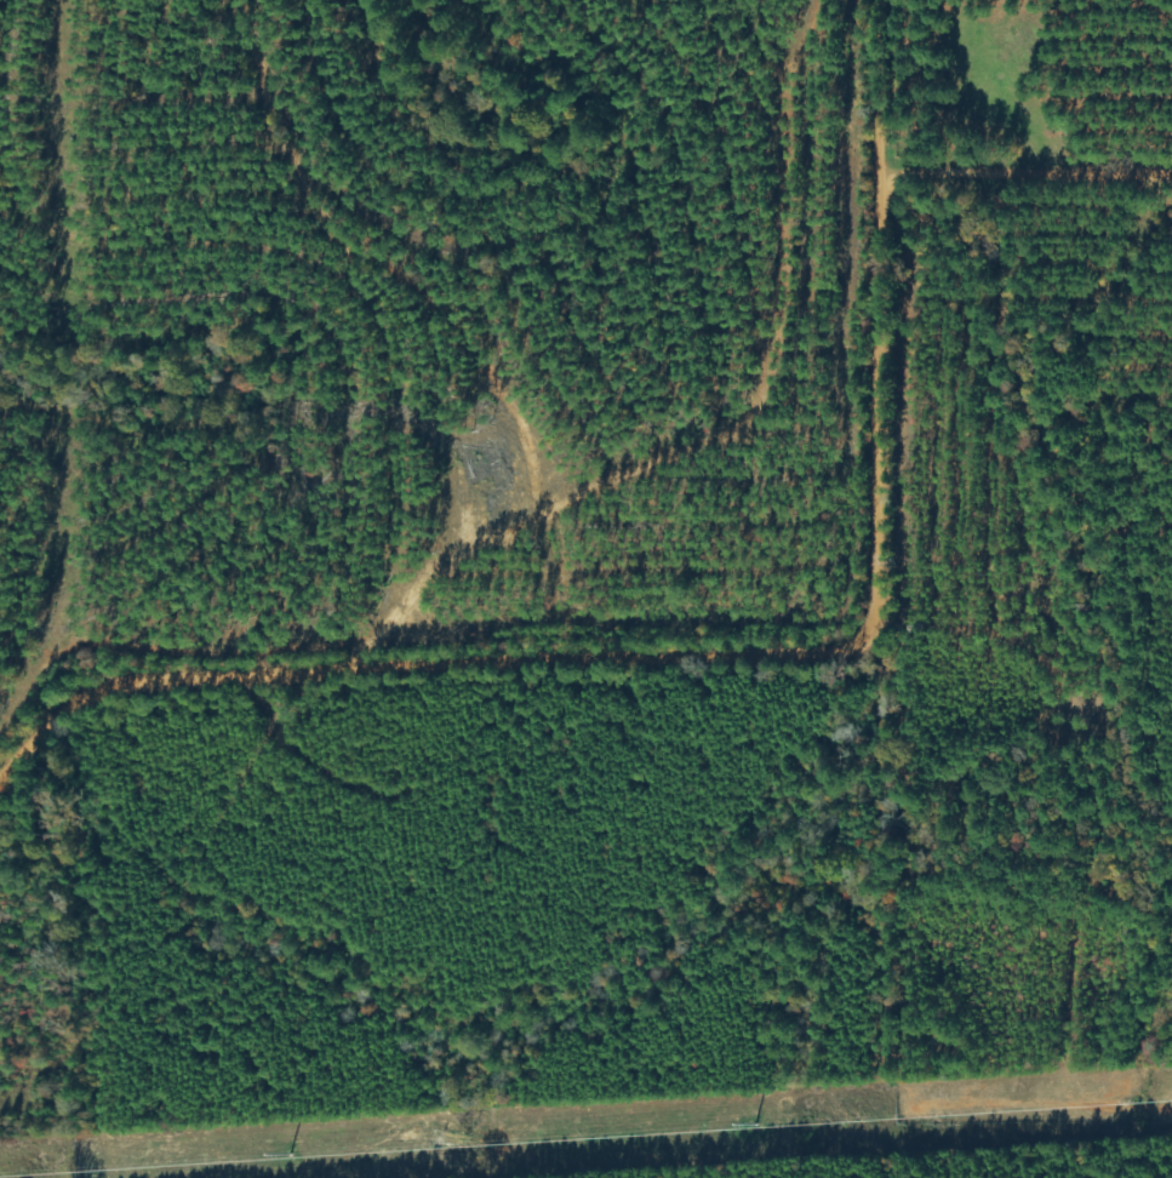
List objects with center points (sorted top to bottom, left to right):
road: (408, 333)
road: (875, 522)
road: (159, 682)
power tower: (938, 1119)
power tower: (574, 1142)
power tower: (145, 1171)

